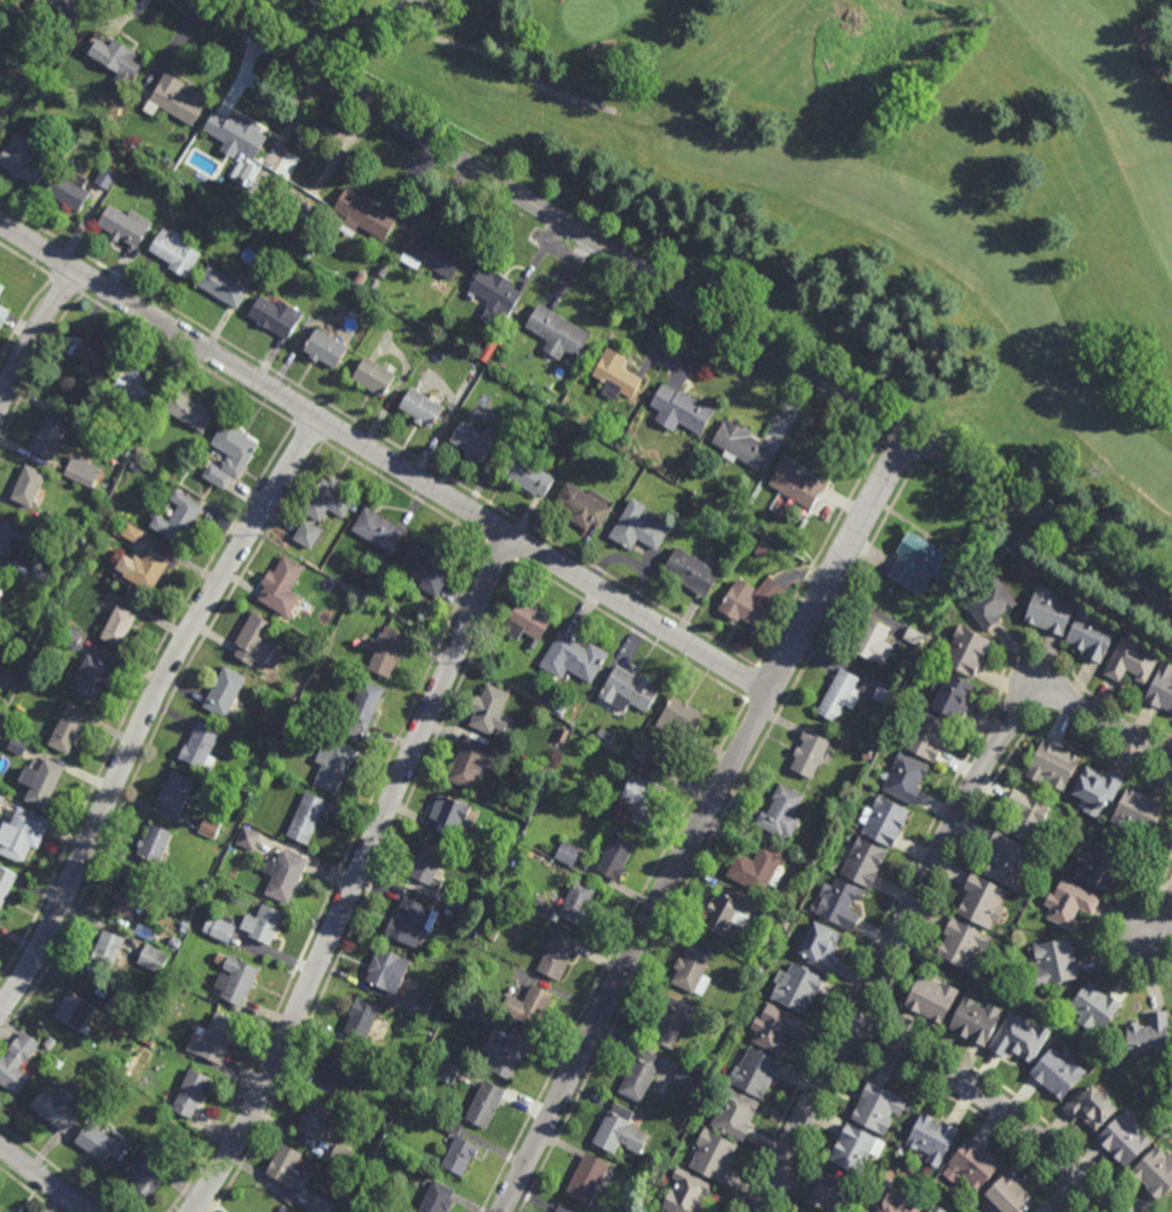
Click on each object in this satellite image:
building: (63, 33)
building: (121, 59)
building: (42, 77)
building: (34, 88)
building: (46, 94)
building: (142, 99)
building: (177, 100)
building: (38, 103)
building: (2, 128)
building: (88, 131)
building: (236, 134)
building: (21, 160)
building: (243, 172)
building: (108, 177)
building: (300, 177)
park: (890, 179)
building: (68, 189)
building: (168, 195)
building: (230, 201)
building: (245, 202)
building: (362, 216)
building: (123, 225)
building: (295, 240)
building: (309, 248)
building: (174, 252)
building: (431, 257)
road: (25, 259)
road: (59, 260)
building: (381, 270)
road: (96, 282)
road: (67, 283)
building: (335, 283)
building: (373, 285)
building: (220, 288)
building: (0, 289)
building: (495, 295)
road: (688, 297)
building: (2, 316)
road: (23, 316)
building: (275, 316)
building: (557, 333)
road: (33, 334)
building: (324, 350)
building: (486, 354)
building: (91, 357)
road: (188, 358)
road: (36, 369)
building: (615, 375)
building: (372, 378)
building: (130, 387)
building: (419, 408)
road: (303, 409)
building: (188, 412)
building: (679, 412)
road: (331, 426)
road: (308, 432)
road: (379, 435)
building: (50, 437)
building: (471, 442)
building: (739, 442)
building: (229, 454)
road: (385, 458)
road: (896, 458)
building: (80, 472)
building: (527, 476)
building: (795, 483)
building: (29, 489)
road: (404, 492)
building: (327, 500)
building: (739, 501)
building: (582, 505)
building: (53, 519)
building: (177, 519)
road: (494, 525)
building: (638, 528)
building: (377, 532)
building: (133, 534)
building: (308, 534)
building: (785, 538)
building: (11, 541)
road: (524, 545)
building: (764, 548)
road: (501, 551)
road: (818, 553)
building: (917, 562)
building: (427, 567)
building: (145, 570)
building: (40, 571)
building: (690, 573)
building: (0, 574)
building: (281, 588)
building: (315, 601)
building: (989, 605)
building: (741, 607)
building: (1049, 613)
building: (525, 624)
building: (8, 625)
building: (117, 628)
road: (632, 632)
building: (71, 634)
building: (913, 637)
building: (1090, 638)
building: (872, 643)
building: (255, 644)
building: (384, 653)
building: (965, 654)
building: (573, 660)
building: (1130, 664)
building: (7, 676)
road: (776, 676)
building: (90, 679)
road: (753, 683)
building: (223, 690)
building: (627, 691)
building: (1160, 691)
road: (134, 694)
building: (885, 694)
building: (839, 697)
road: (1064, 697)
building: (952, 699)
building: (555, 701)
building: (364, 707)
road: (1018, 708)
road: (149, 710)
road: (763, 710)
building: (488, 713)
building: (679, 719)
building: (263, 728)
building: (67, 730)
building: (563, 734)
road: (154, 735)
building: (605, 735)
building: (924, 736)
building: (259, 739)
building: (199, 743)
building: (17, 745)
building: (640, 752)
building: (809, 754)
building: (867, 756)
building: (470, 763)
building: (333, 765)
building: (1052, 766)
building: (903, 780)
building: (42, 782)
building: (1096, 788)
building: (174, 793)
road: (986, 794)
building: (1, 798)
building: (640, 800)
building: (1137, 812)
building: (781, 814)
building: (1024, 816)
building: (448, 817)
building: (305, 818)
road: (702, 820)
building: (881, 822)
building: (209, 826)
road: (713, 834)
building: (22, 837)
building: (247, 837)
building: (153, 845)
road: (919, 849)
building: (568, 852)
building: (817, 855)
building: (614, 860)
building: (1006, 861)
building: (425, 866)
building: (861, 866)
building: (1096, 867)
building: (757, 871)
building: (283, 877)
road: (356, 877)
road: (334, 880)
road: (925, 881)
building: (5, 883)
road: (368, 889)
building: (128, 900)
building: (981, 902)
building: (460, 903)
building: (581, 904)
building: (837, 904)
building: (1068, 904)
building: (544, 908)
building: (448, 912)
building: (724, 915)
road: (1164, 917)
building: (771, 919)
building: (785, 923)
building: (412, 924)
building: (262, 925)
building: (218, 927)
road: (1108, 929)
building: (145, 931)
building: (174, 942)
building: (961, 944)
building: (820, 948)
building: (104, 954)
building: (557, 957)
road: (615, 957)
building: (154, 958)
building: (219, 958)
building: (1051, 964)
building: (690, 967)
building: (386, 971)
building: (235, 981)
building: (794, 989)
building: (170, 993)
building: (931, 1001)
building: (419, 1004)
building: (117, 1007)
building: (528, 1007)
building: (1093, 1007)
building: (460, 1009)
road: (857, 1011)
building: (74, 1012)
road: (877, 1017)
building: (358, 1021)
building: (975, 1022)
building: (671, 1024)
building: (132, 1027)
building: (776, 1028)
road: (866, 1034)
building: (1148, 1035)
building: (1018, 1039)
building: (213, 1040)
building: (149, 1041)
road: (841, 1041)
building: (50, 1042)
building: (375, 1051)
road: (858, 1052)
building: (507, 1057)
building: (16, 1064)
building: (444, 1069)
building: (334, 1072)
building: (753, 1074)
building: (1057, 1074)
building: (639, 1075)
building: (689, 1078)
building: (419, 1091)
building: (189, 1095)
road: (1018, 1098)
road: (994, 1101)
building: (486, 1107)
building: (1088, 1108)
building: (877, 1110)
building: (53, 1112)
building: (732, 1115)
building: (166, 1116)
road: (983, 1116)
building: (312, 1120)
road: (817, 1132)
building: (617, 1135)
building: (931, 1139)
building: (1121, 1139)
building: (94, 1143)
building: (855, 1150)
building: (341, 1155)
building: (712, 1156)
building: (459, 1158)
road: (57, 1166)
building: (285, 1166)
building: (971, 1167)
building: (145, 1171)
building: (1155, 1174)
road: (45, 1176)
building: (587, 1181)
road: (28, 1190)
building: (686, 1194)
building: (1007, 1195)
building: (832, 1196)
building: (645, 1199)
building: (437, 1200)
building: (894, 1204)
building: (320, 1205)
road: (754, 1205)
building: (1042, 1208)
building: (561, 1210)
building: (935, 1210)
building: (0, 1211)

